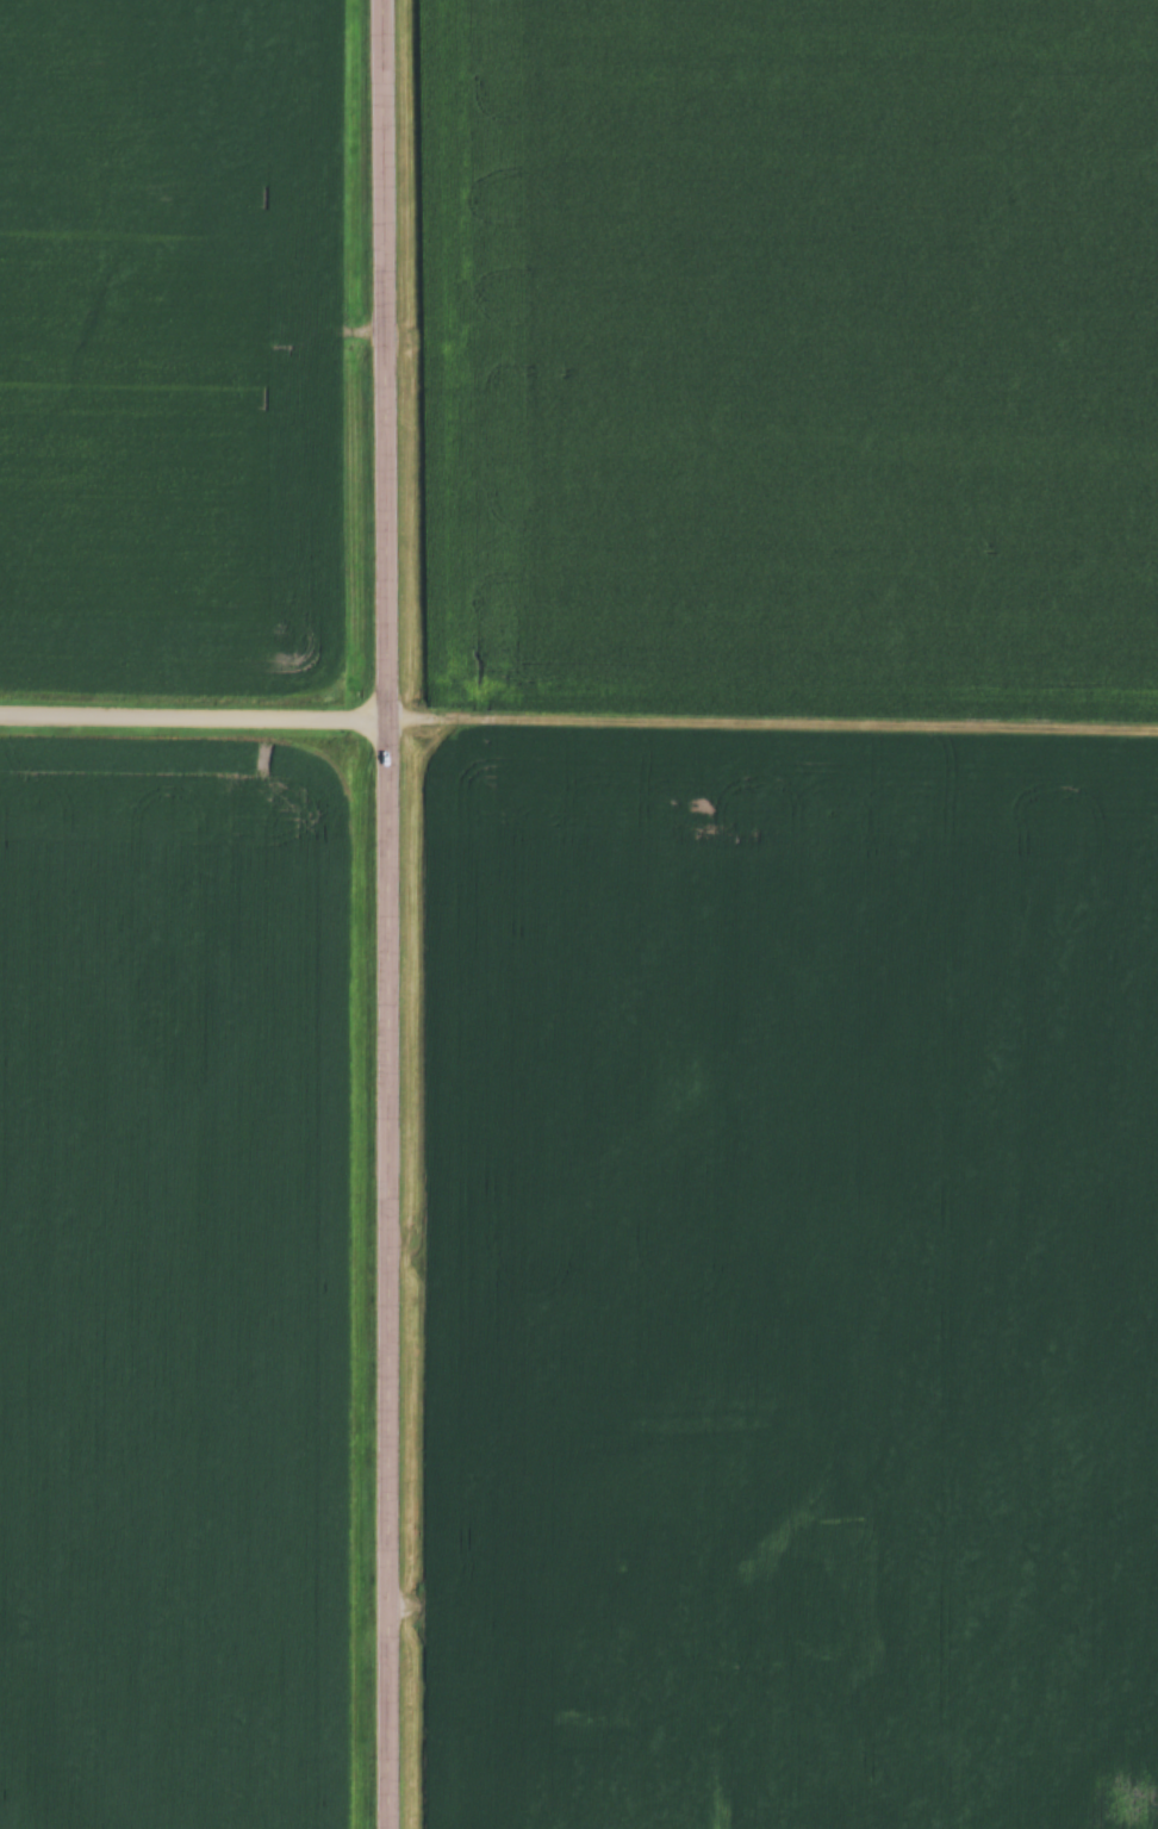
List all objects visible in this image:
road: (579, 720)
road: (385, 914)

